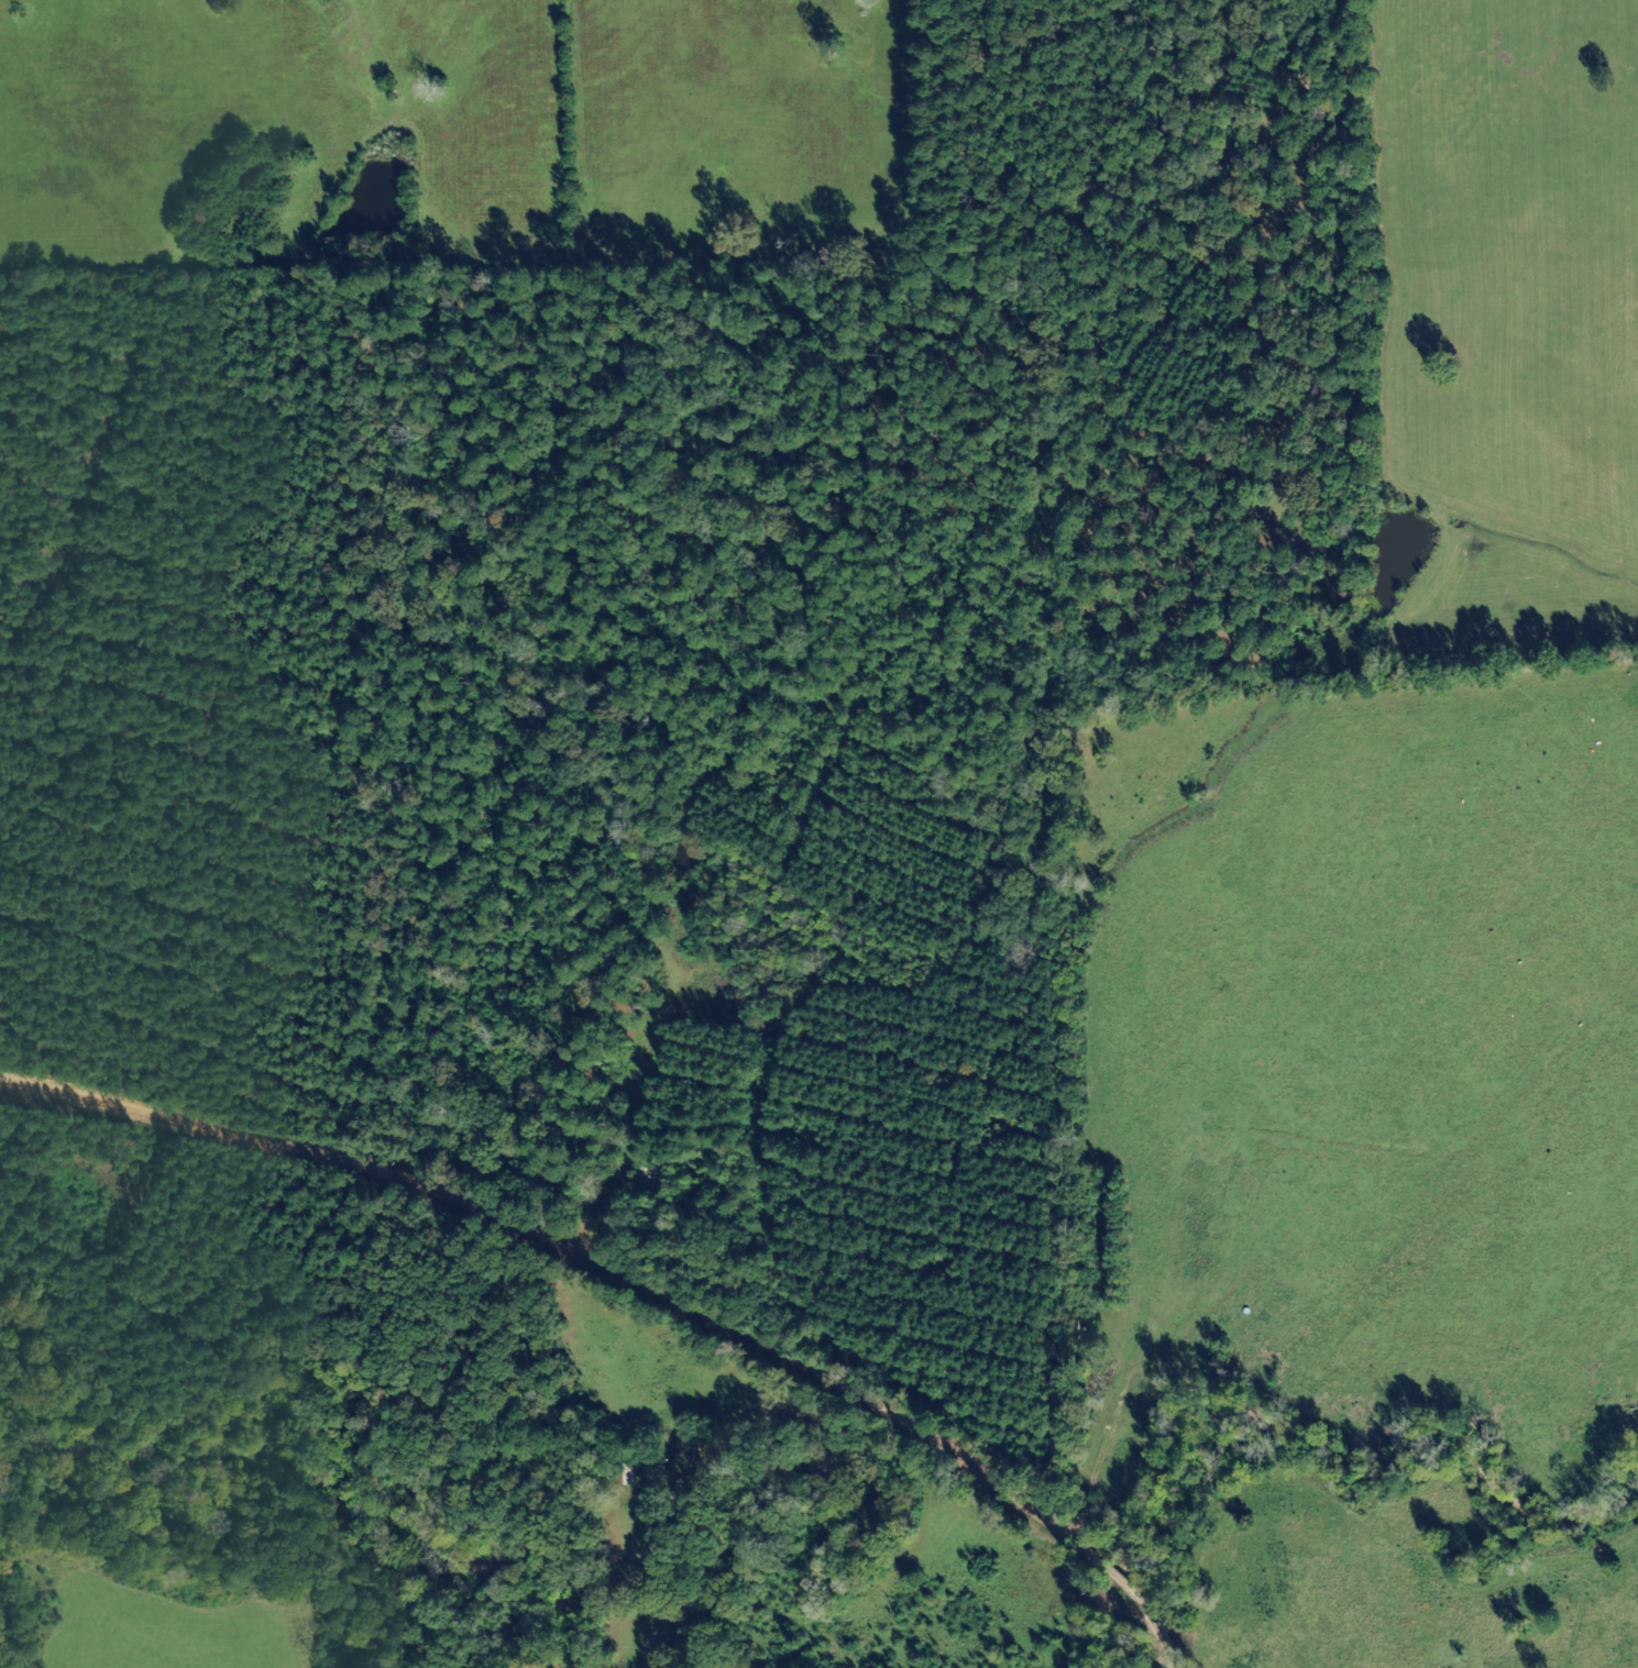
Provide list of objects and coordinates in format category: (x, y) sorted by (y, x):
road: (638, 1278)
building: (624, 1467)

